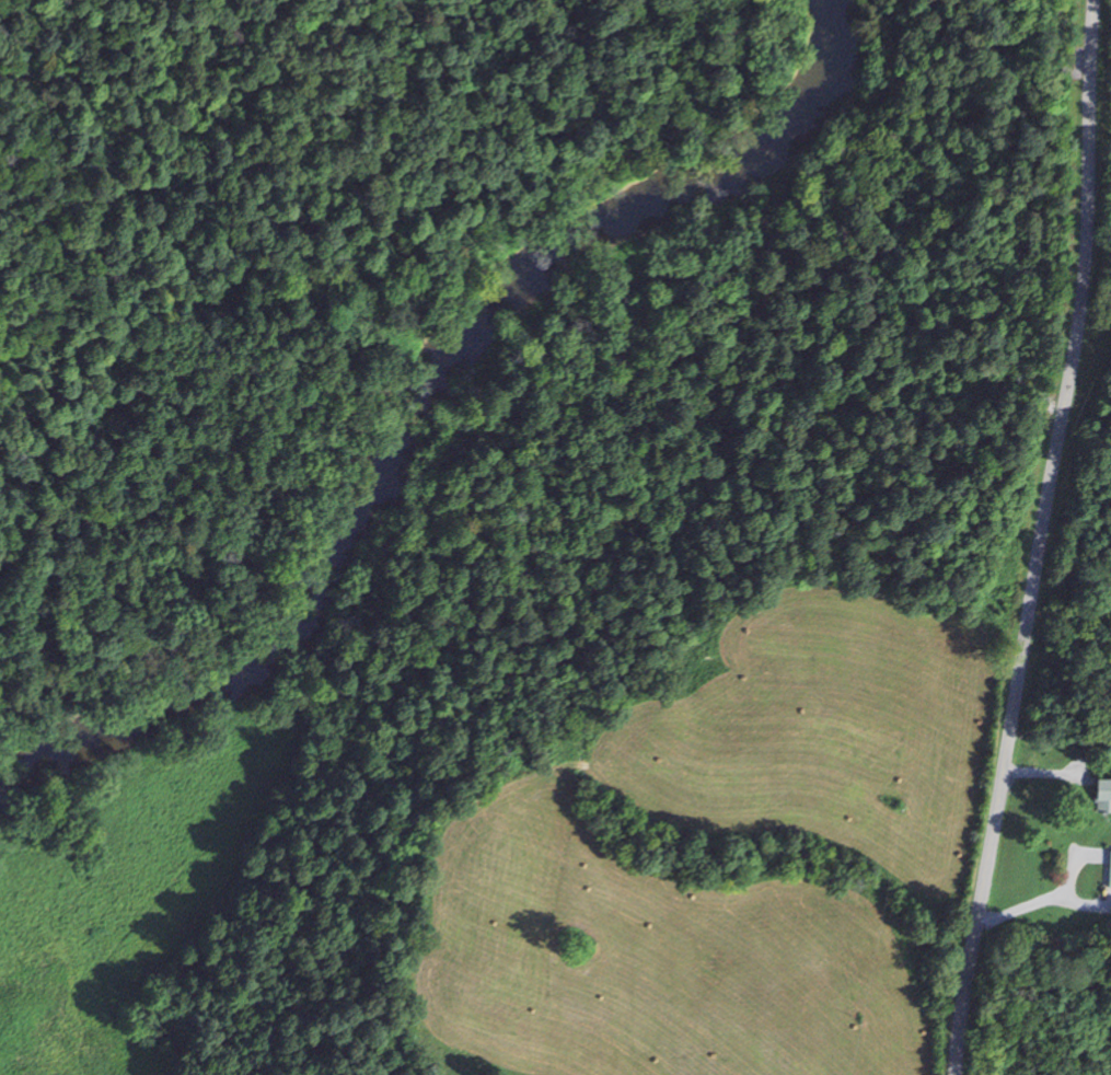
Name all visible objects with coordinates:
road: (1042, 539)

